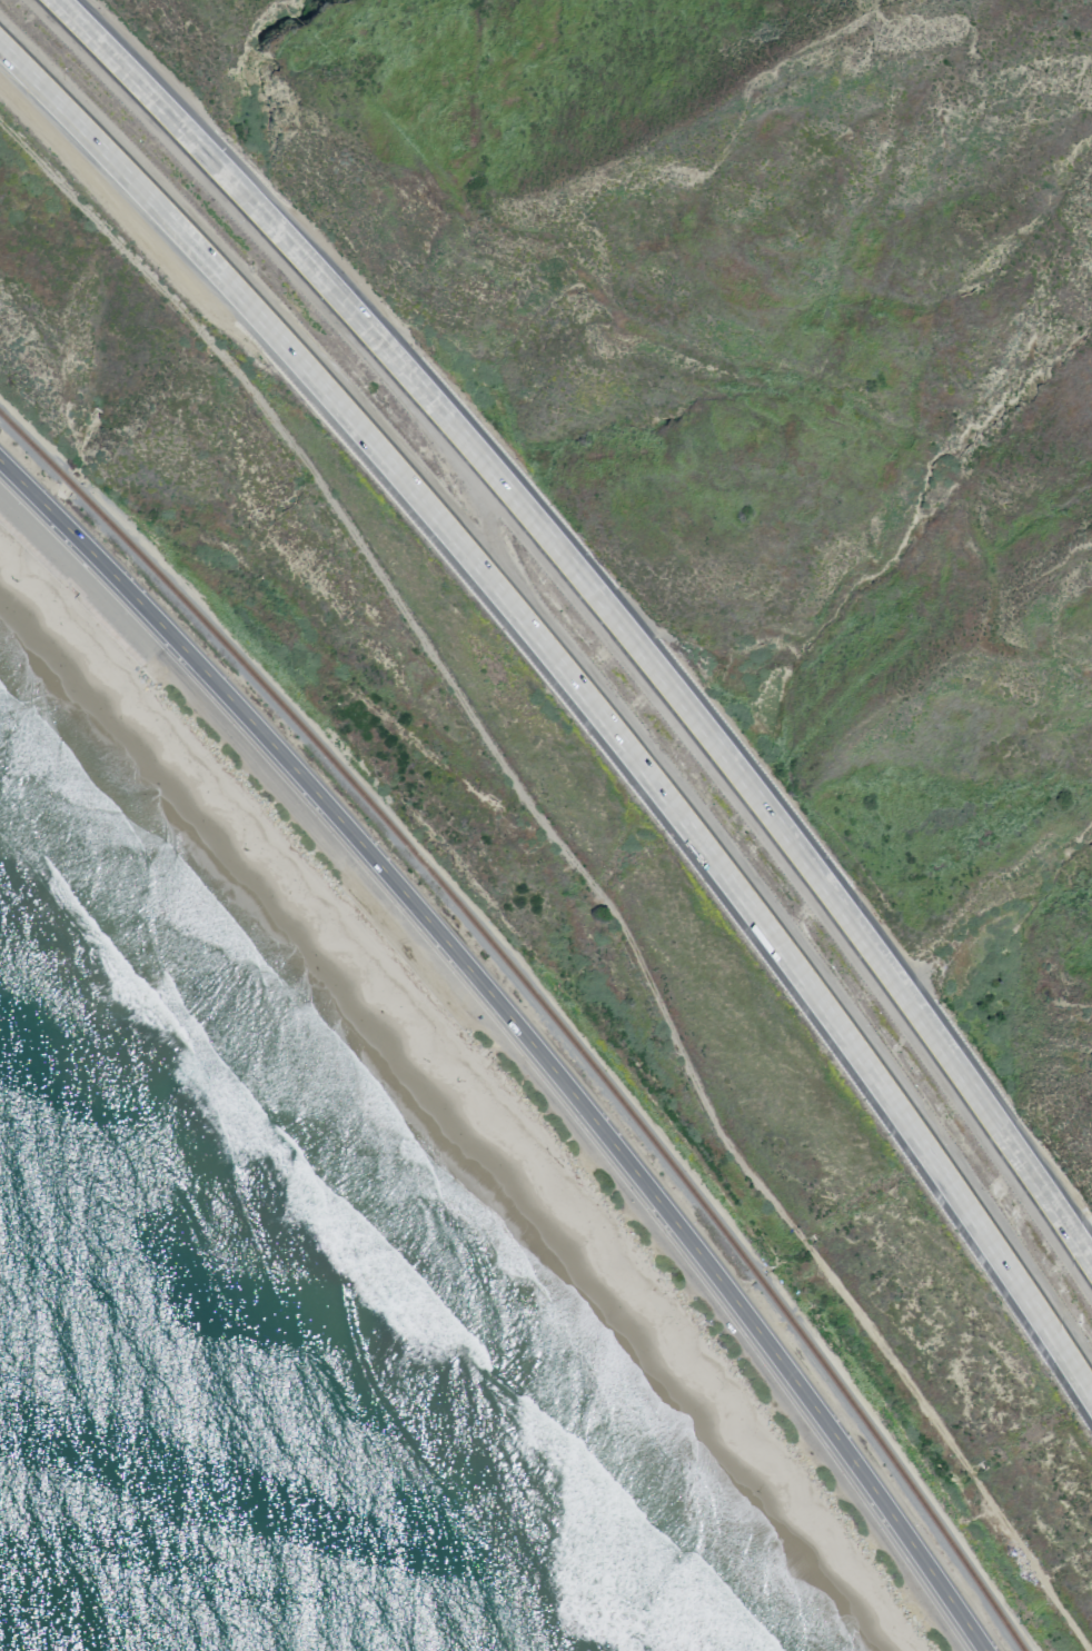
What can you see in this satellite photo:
road: (736, 360)
railway: (31, 445)
railway: (68, 481)
road: (19, 485)
road: (42, 508)
road: (606, 603)
road: (583, 689)
road: (577, 864)
railway: (576, 1047)
road: (544, 1057)

